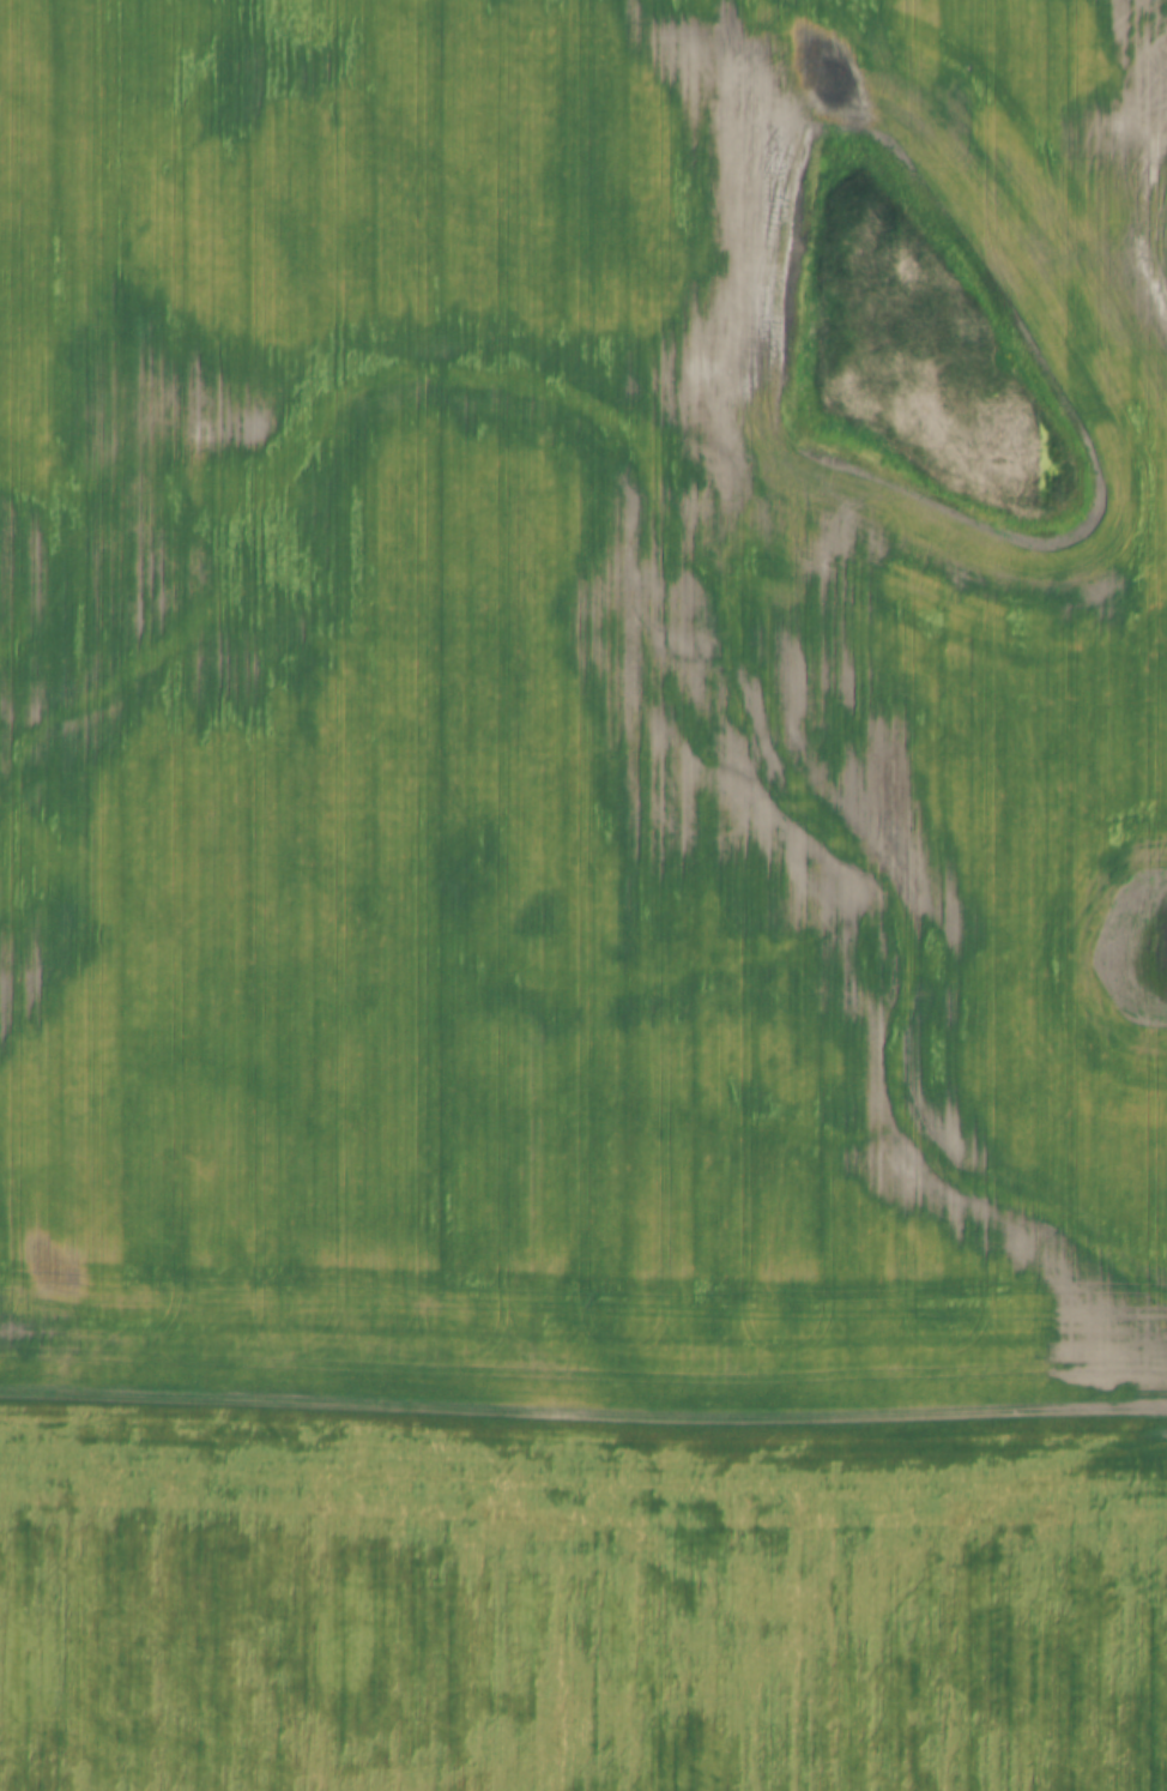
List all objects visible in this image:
road: (582, 1412)

